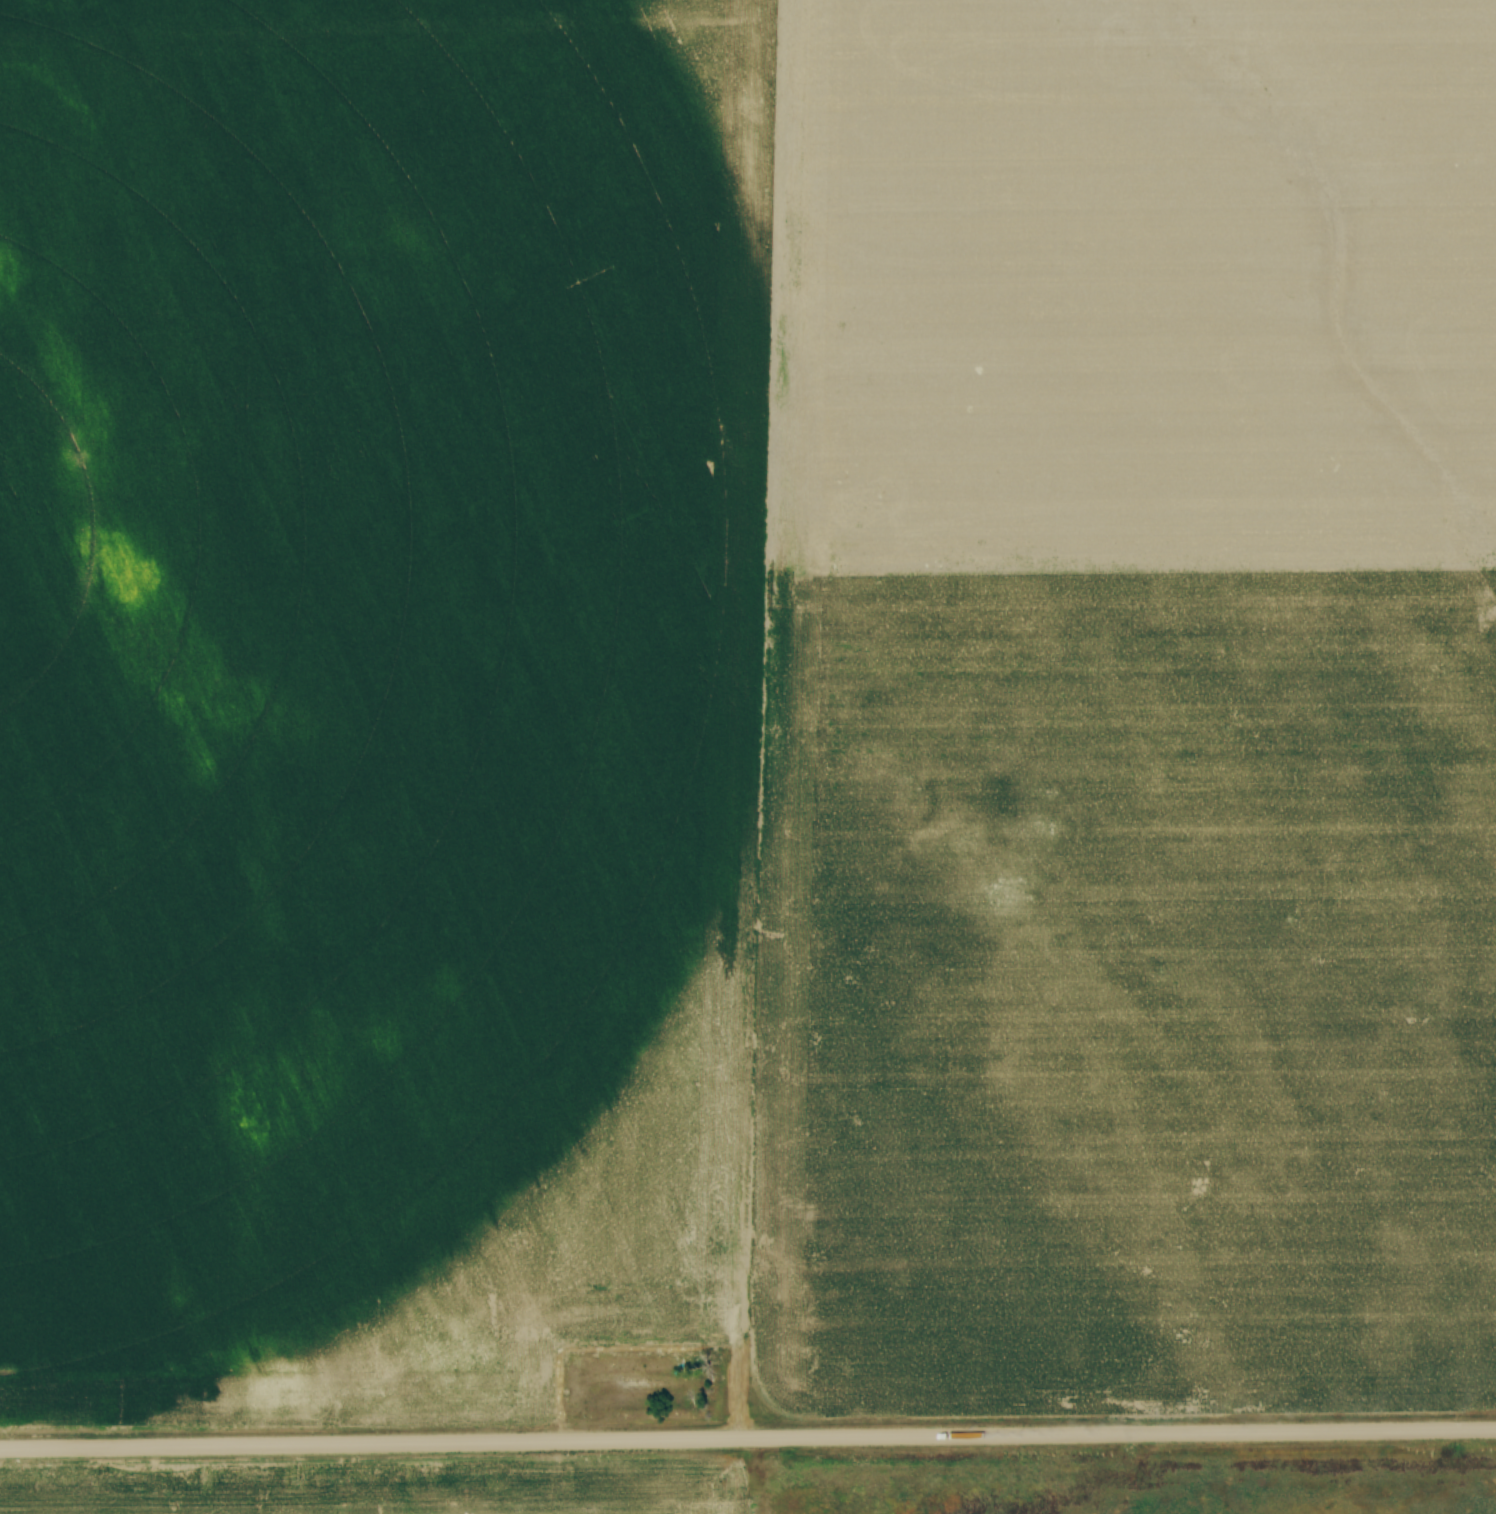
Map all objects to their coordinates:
road: (748, 1441)

